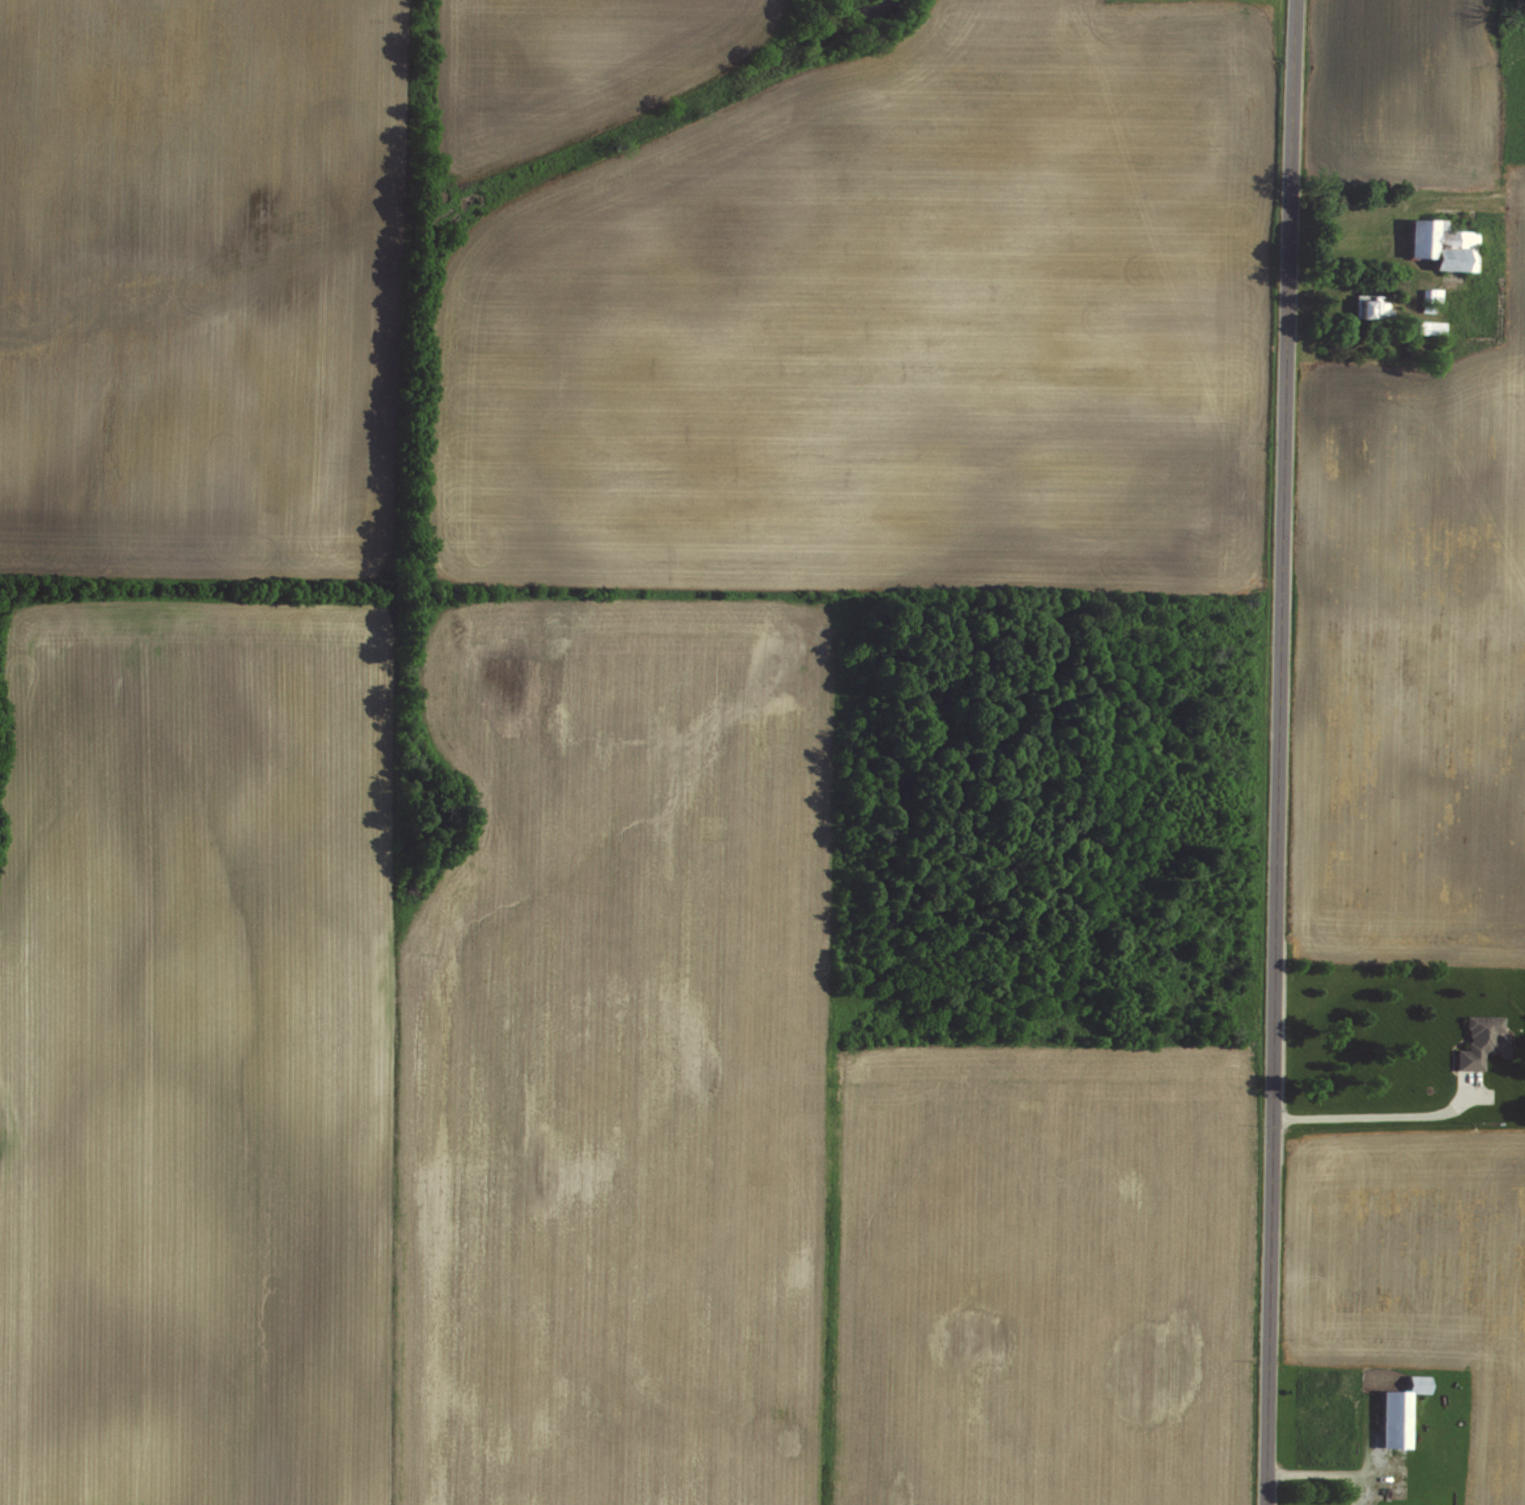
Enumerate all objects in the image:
building: (1441, 245)
building: (1367, 305)
road: (1279, 752)
building: (1478, 1040)
road: (1379, 1114)
building: (1399, 1411)
road: (1320, 1474)

